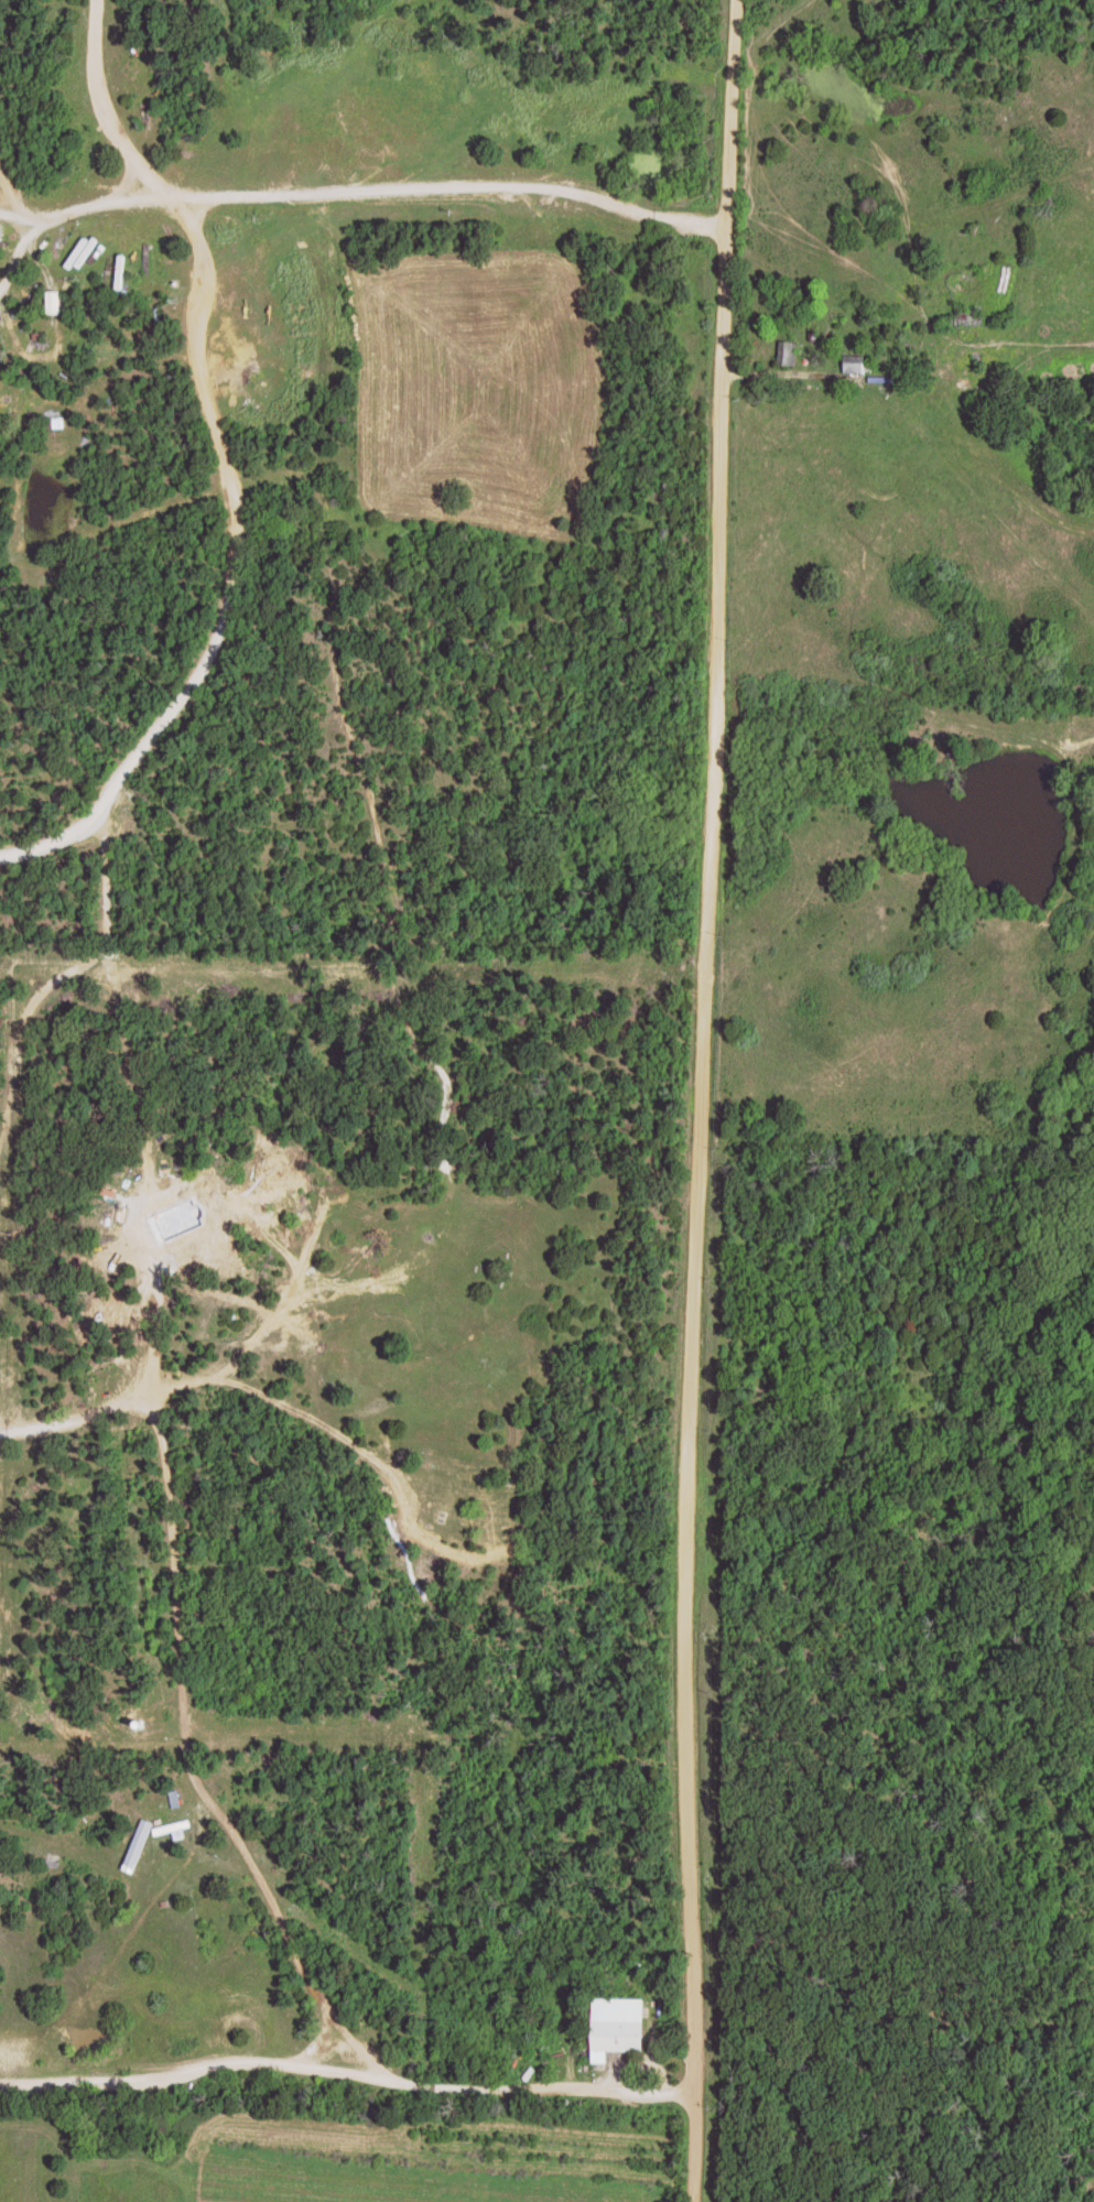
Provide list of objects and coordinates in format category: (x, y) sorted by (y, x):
road: (9, 184)
road: (366, 195)
road: (23, 239)
building: (963, 276)
building: (968, 316)
building: (788, 351)
building: (854, 364)
road: (227, 470)
road: (29, 1023)
road: (708, 1100)
road: (85, 1418)
road: (173, 1478)
building: (175, 1799)
building: (172, 1829)
building: (616, 2026)
road: (193, 2079)
road: (542, 2091)

